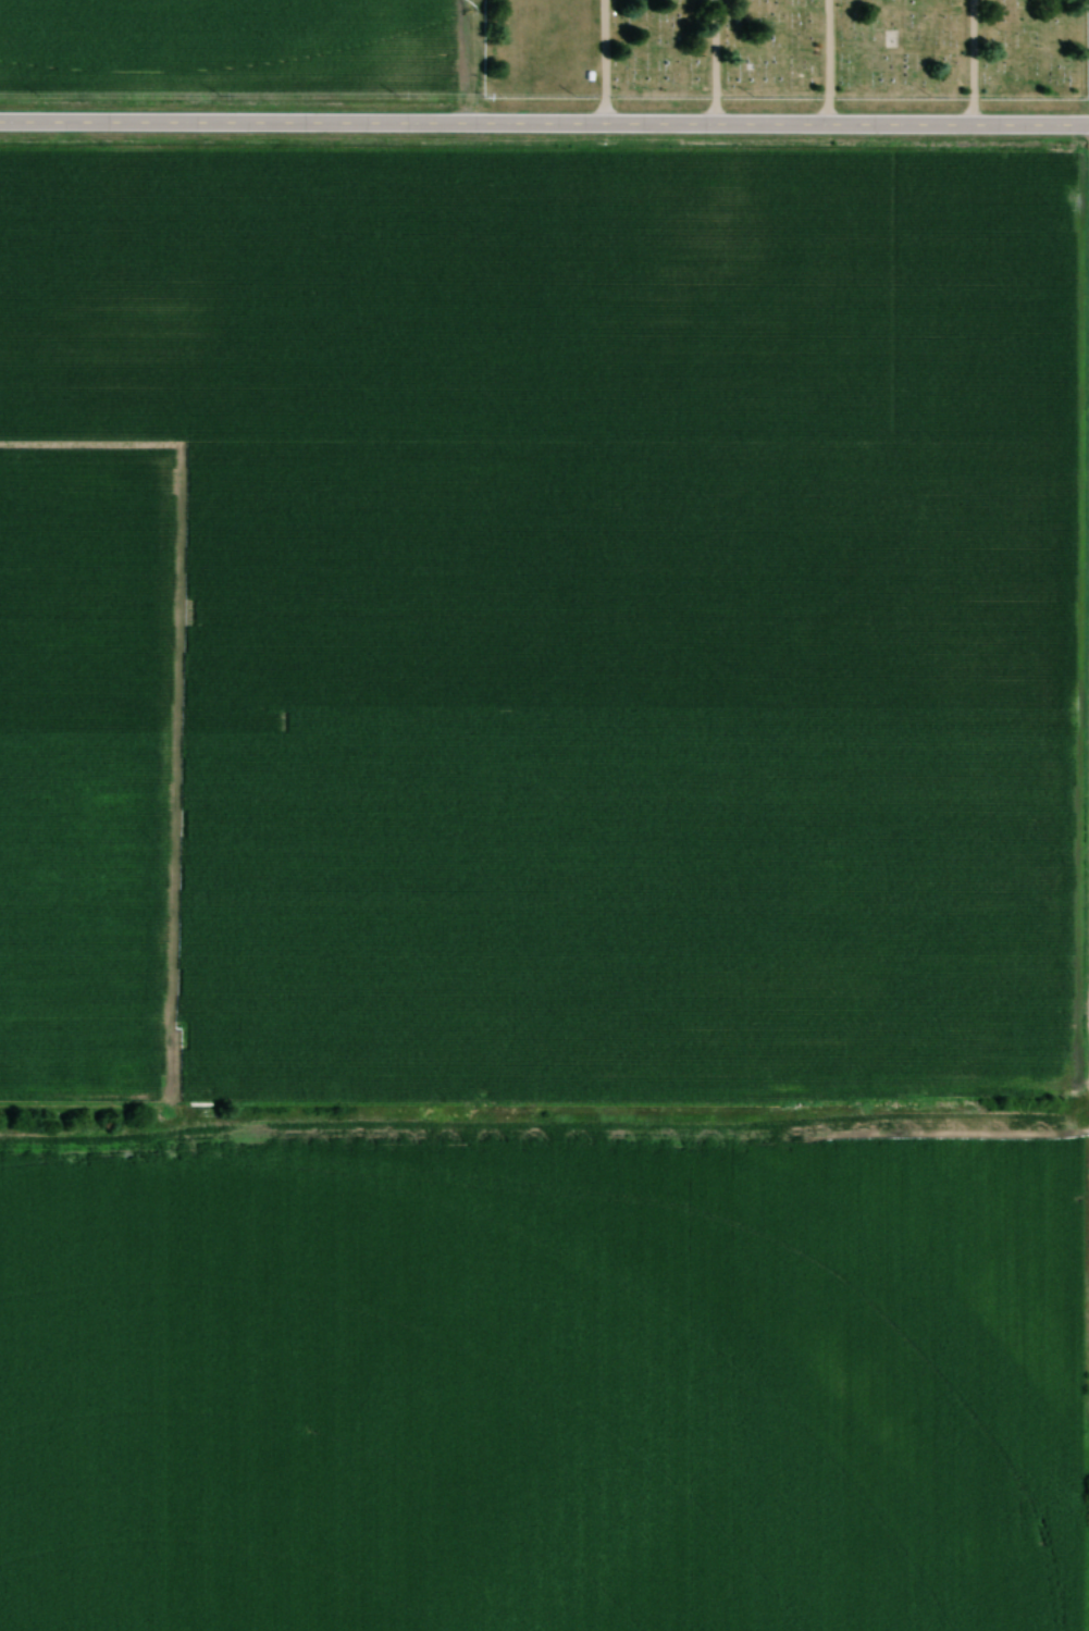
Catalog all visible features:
park: (781, 48)
road: (714, 61)
road: (604, 62)
road: (827, 62)
road: (972, 62)
road: (544, 123)

